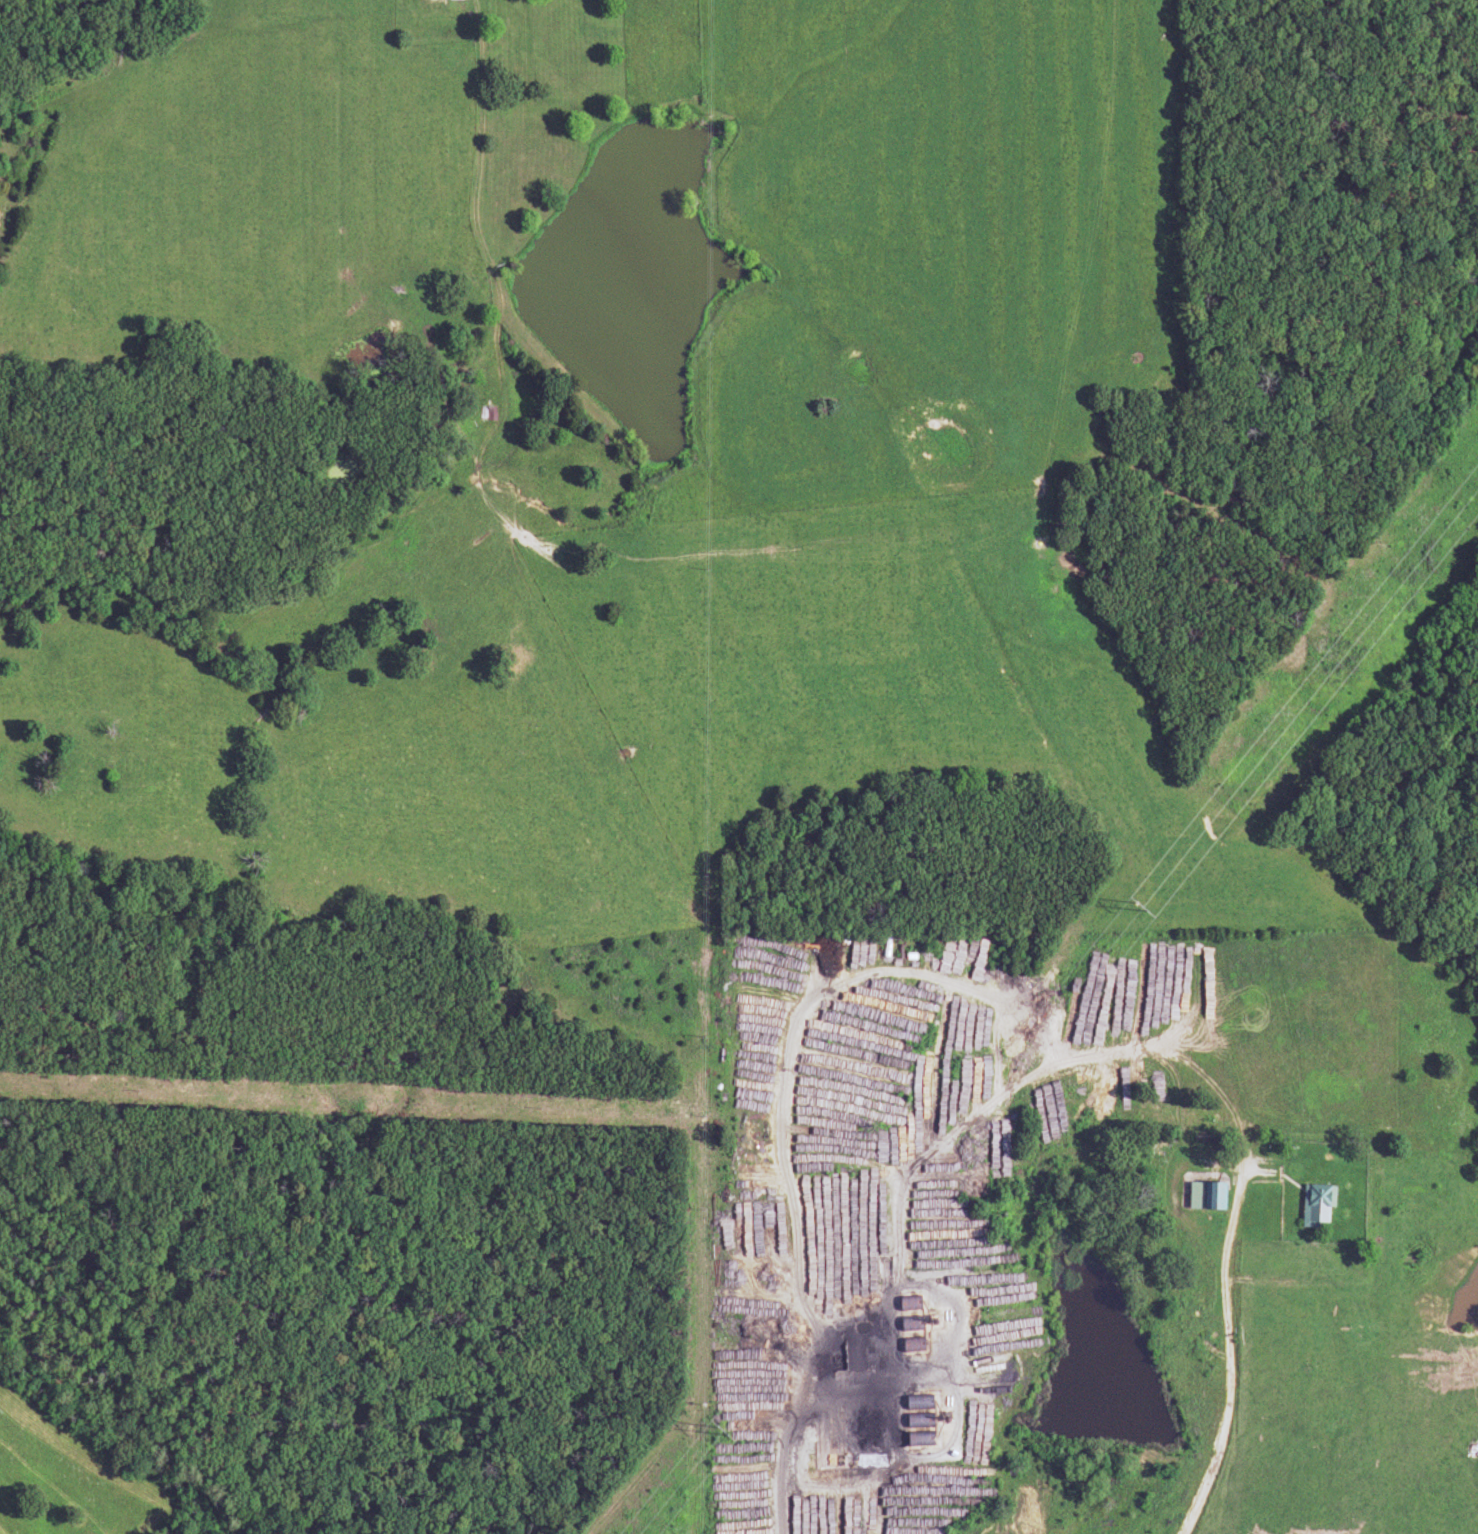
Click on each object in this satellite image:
road: (482, 184)
building: (480, 413)
power tower: (1138, 905)
building: (1270, 1175)
building: (1204, 1197)
building: (1314, 1205)
road: (1232, 1359)
power tower: (718, 1432)
road: (783, 1452)
building: (827, 1460)

